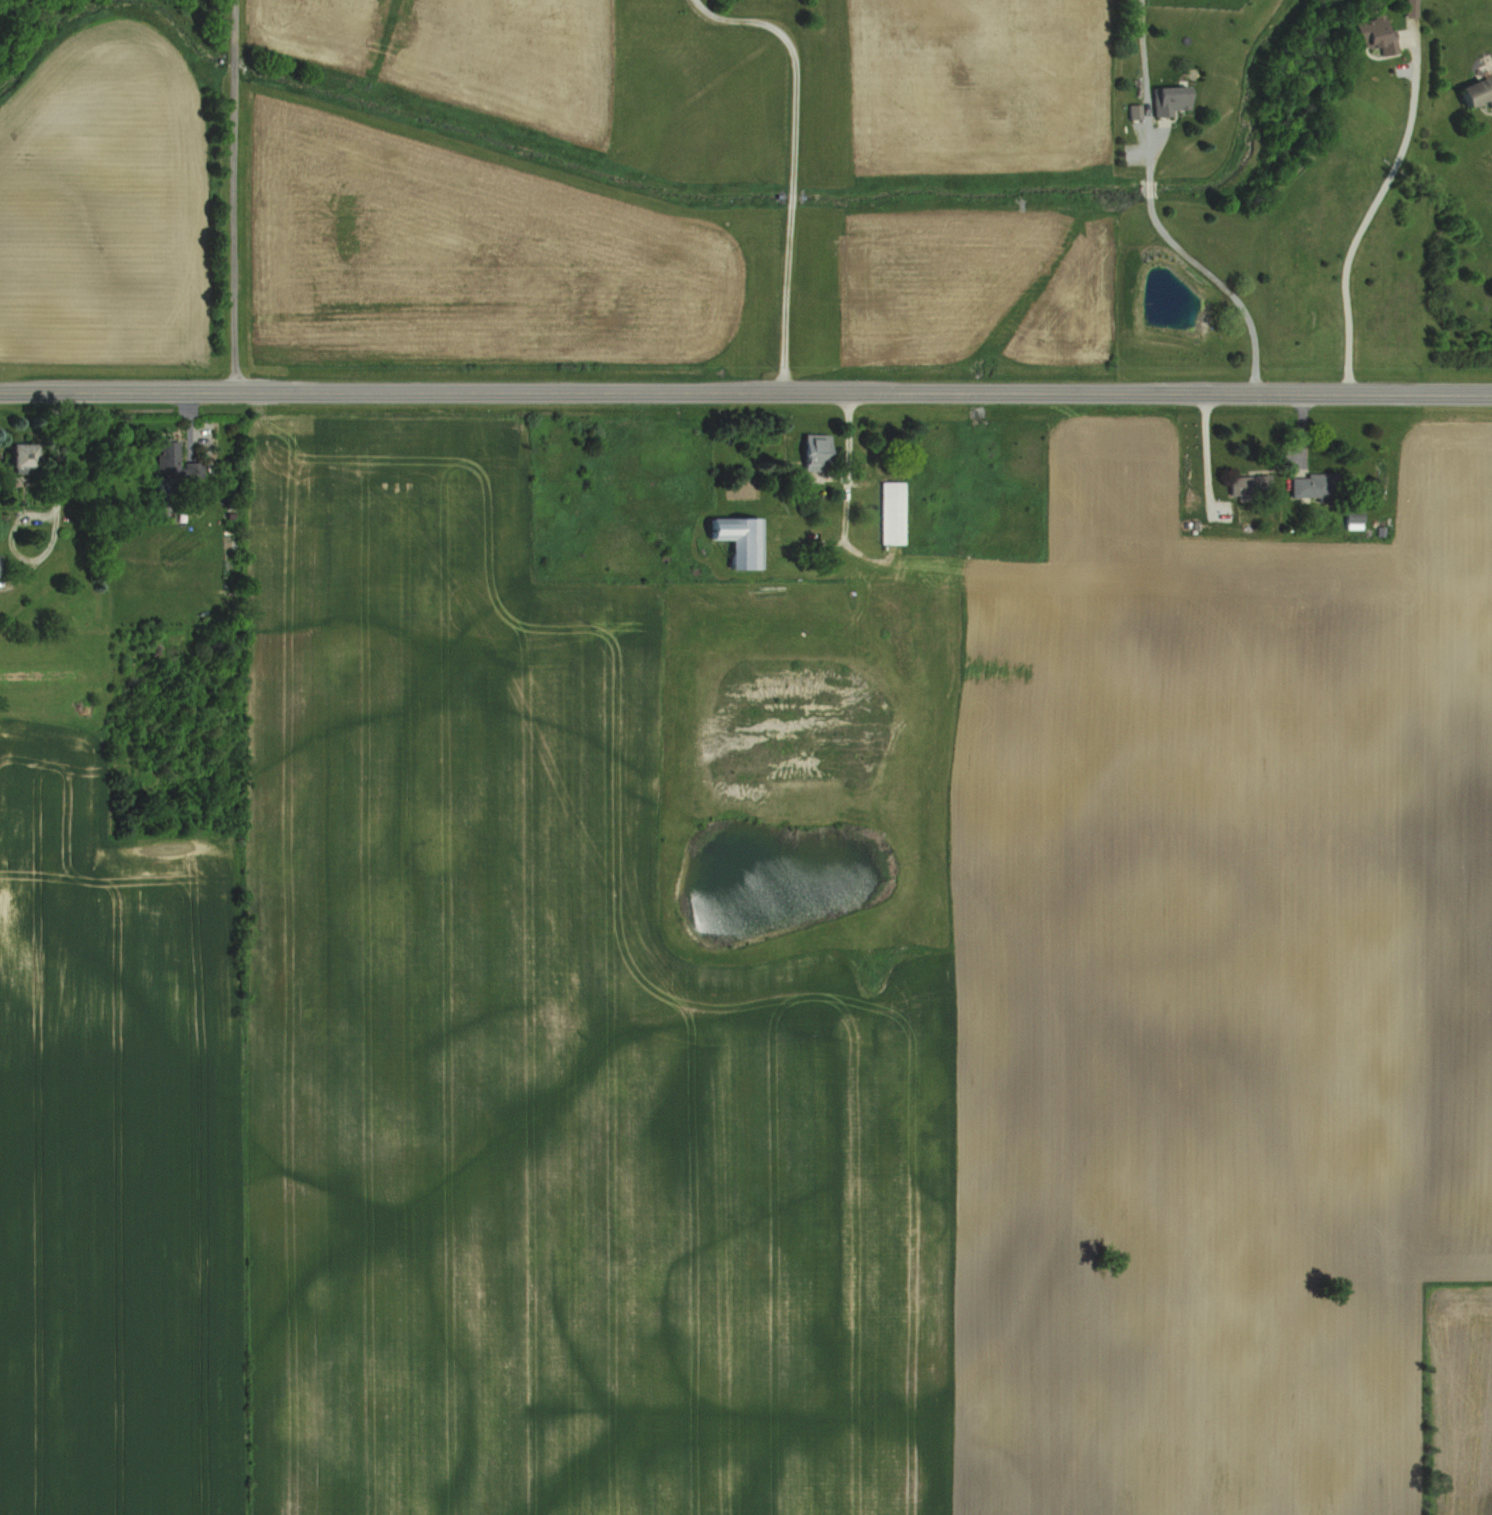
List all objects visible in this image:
building: (1366, 35)
building: (1472, 91)
building: (1164, 100)
road: (788, 162)
road: (232, 195)
road: (1156, 215)
road: (1366, 215)
road: (746, 392)
building: (807, 451)
building: (8, 455)
building: (165, 460)
building: (1242, 485)
building: (1304, 485)
building: (887, 512)
road: (47, 522)
building: (730, 538)

